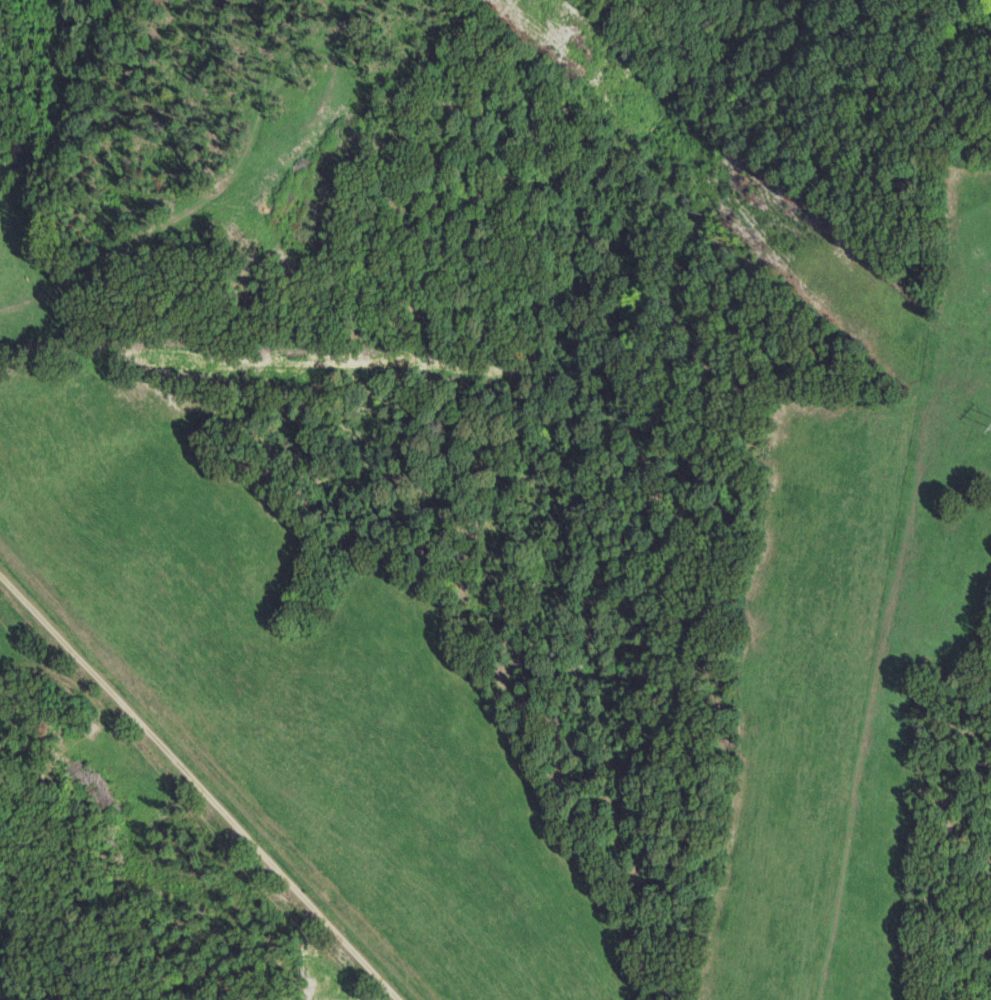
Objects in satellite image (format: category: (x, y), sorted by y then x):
road: (199, 792)

